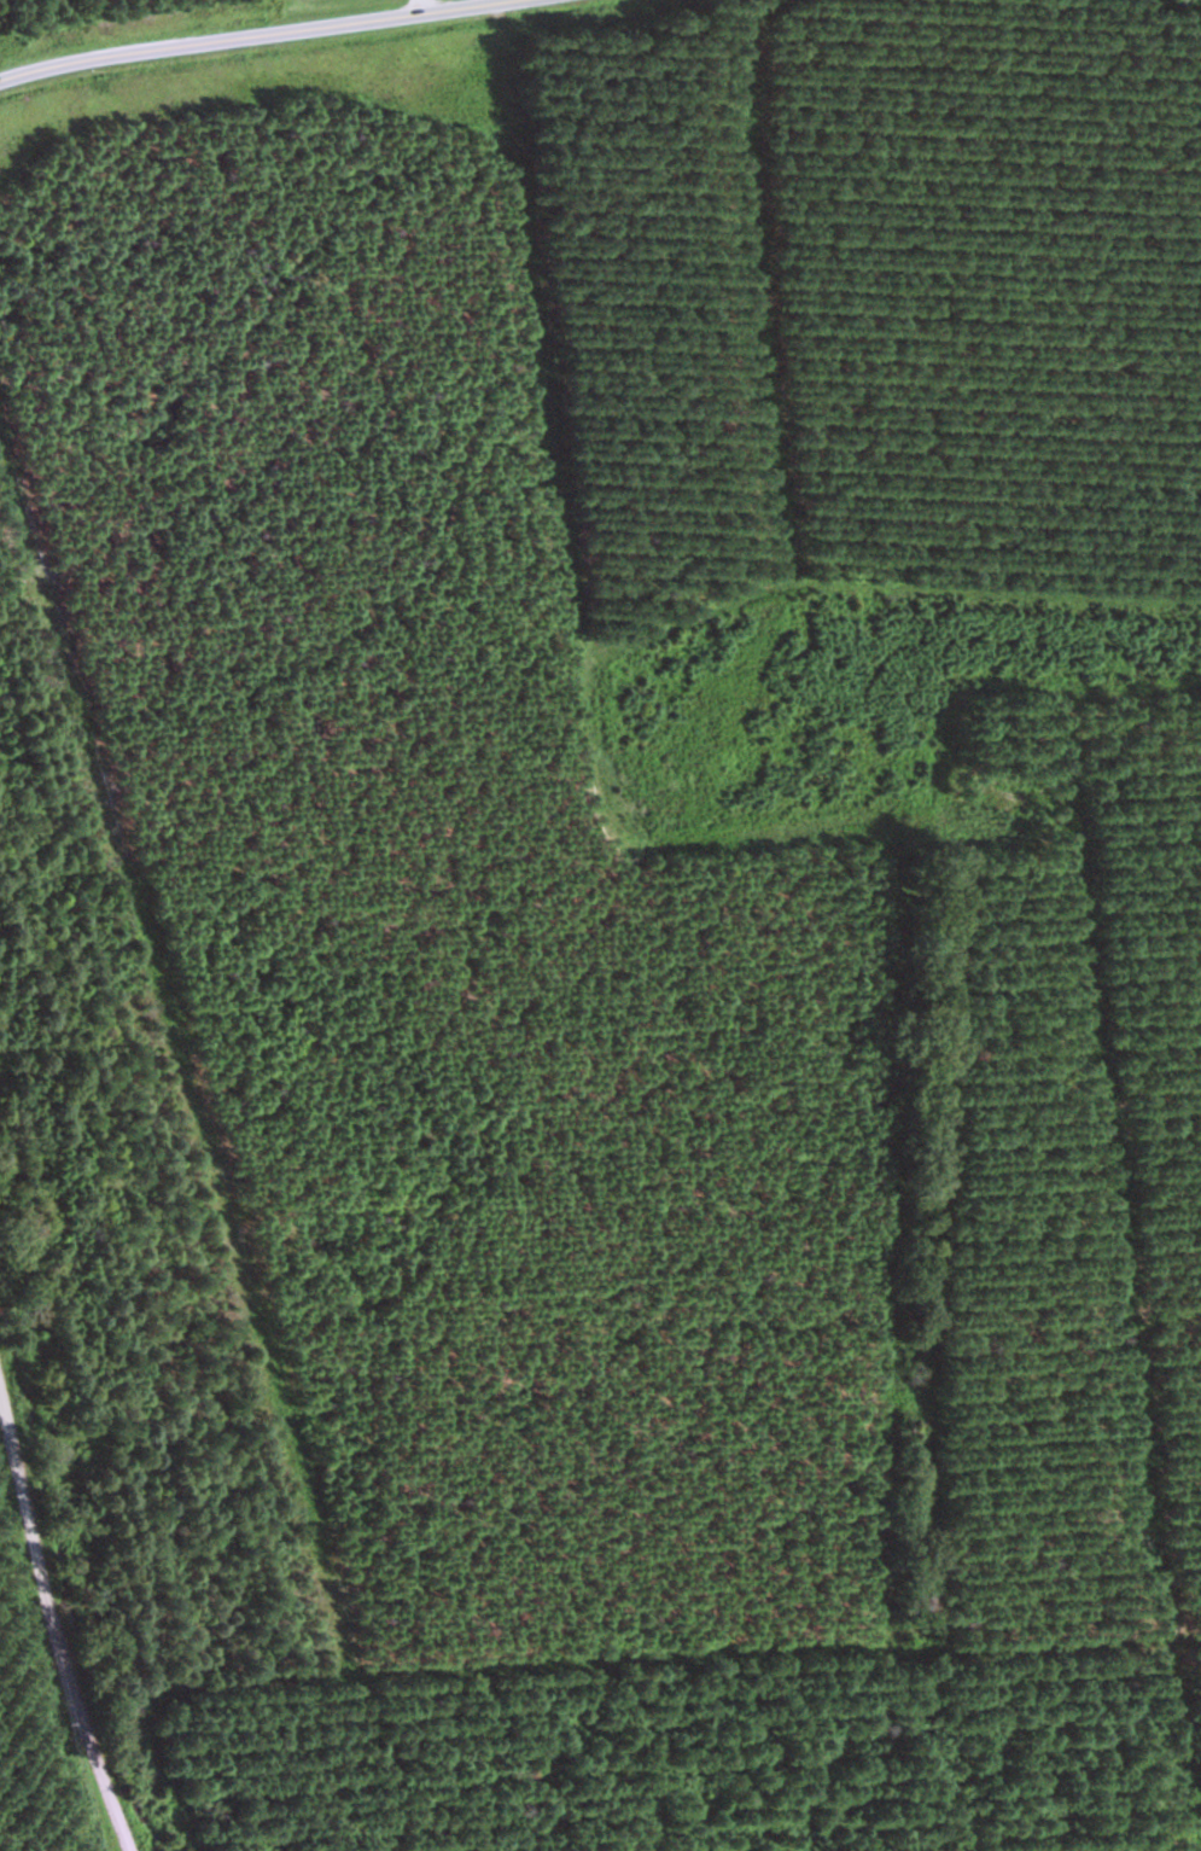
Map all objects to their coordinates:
road: (232, 31)
road: (60, 1591)

